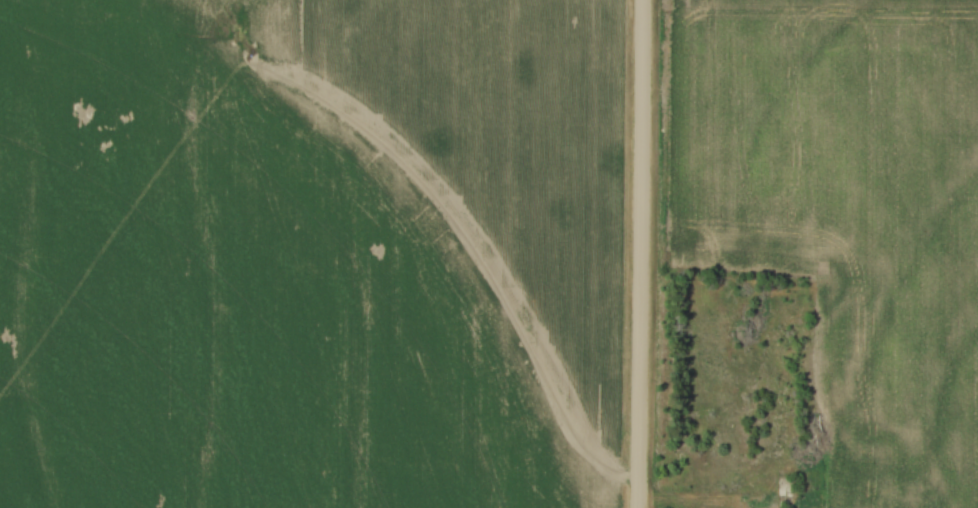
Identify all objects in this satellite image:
road: (642, 253)
road: (681, 499)

